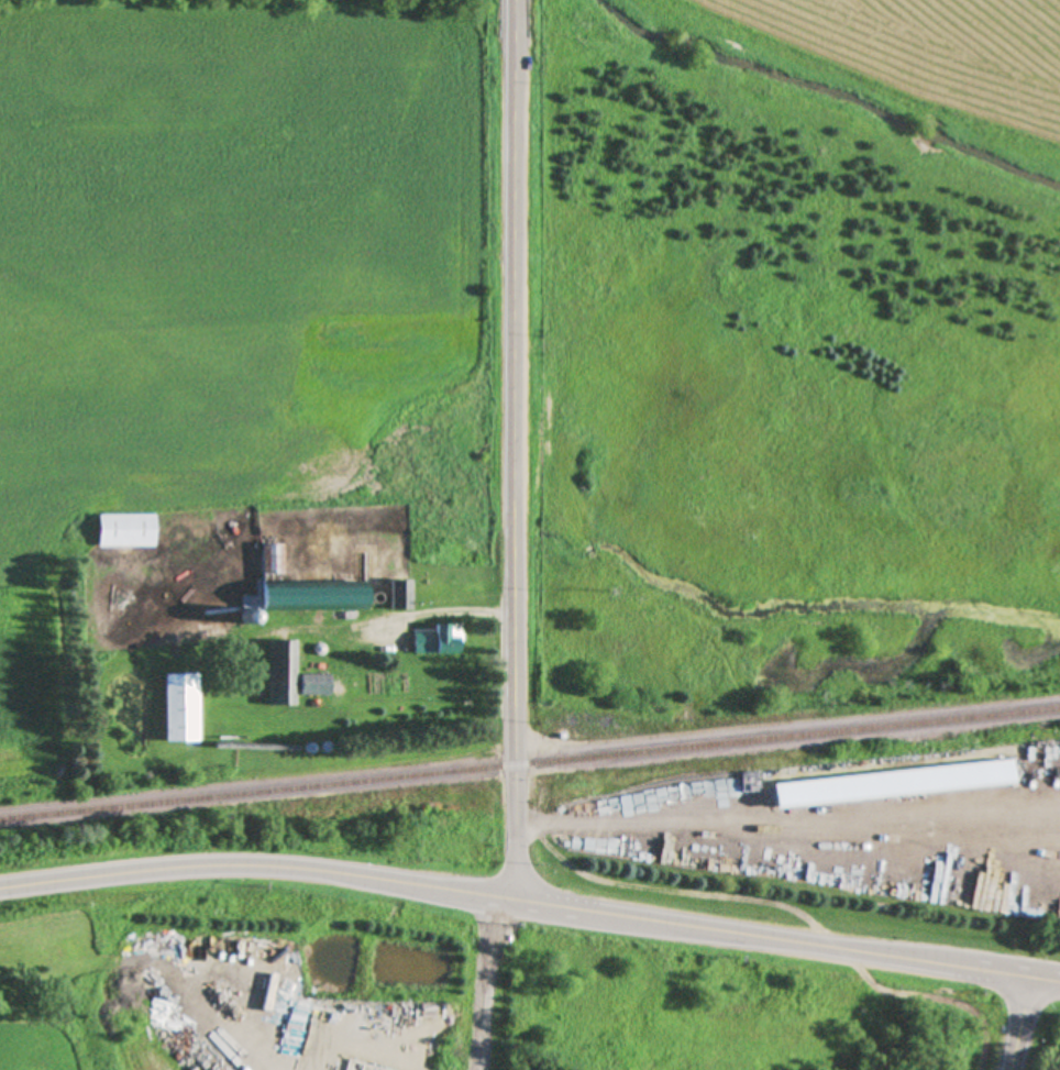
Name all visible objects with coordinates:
road: (517, 450)
building: (128, 530)
building: (306, 588)
building: (400, 595)
building: (439, 639)
building: (297, 677)
building: (181, 707)
railway: (529, 763)
building: (891, 785)
road: (260, 867)
road: (776, 939)
road: (1046, 979)
road: (485, 983)
road: (1023, 1024)

